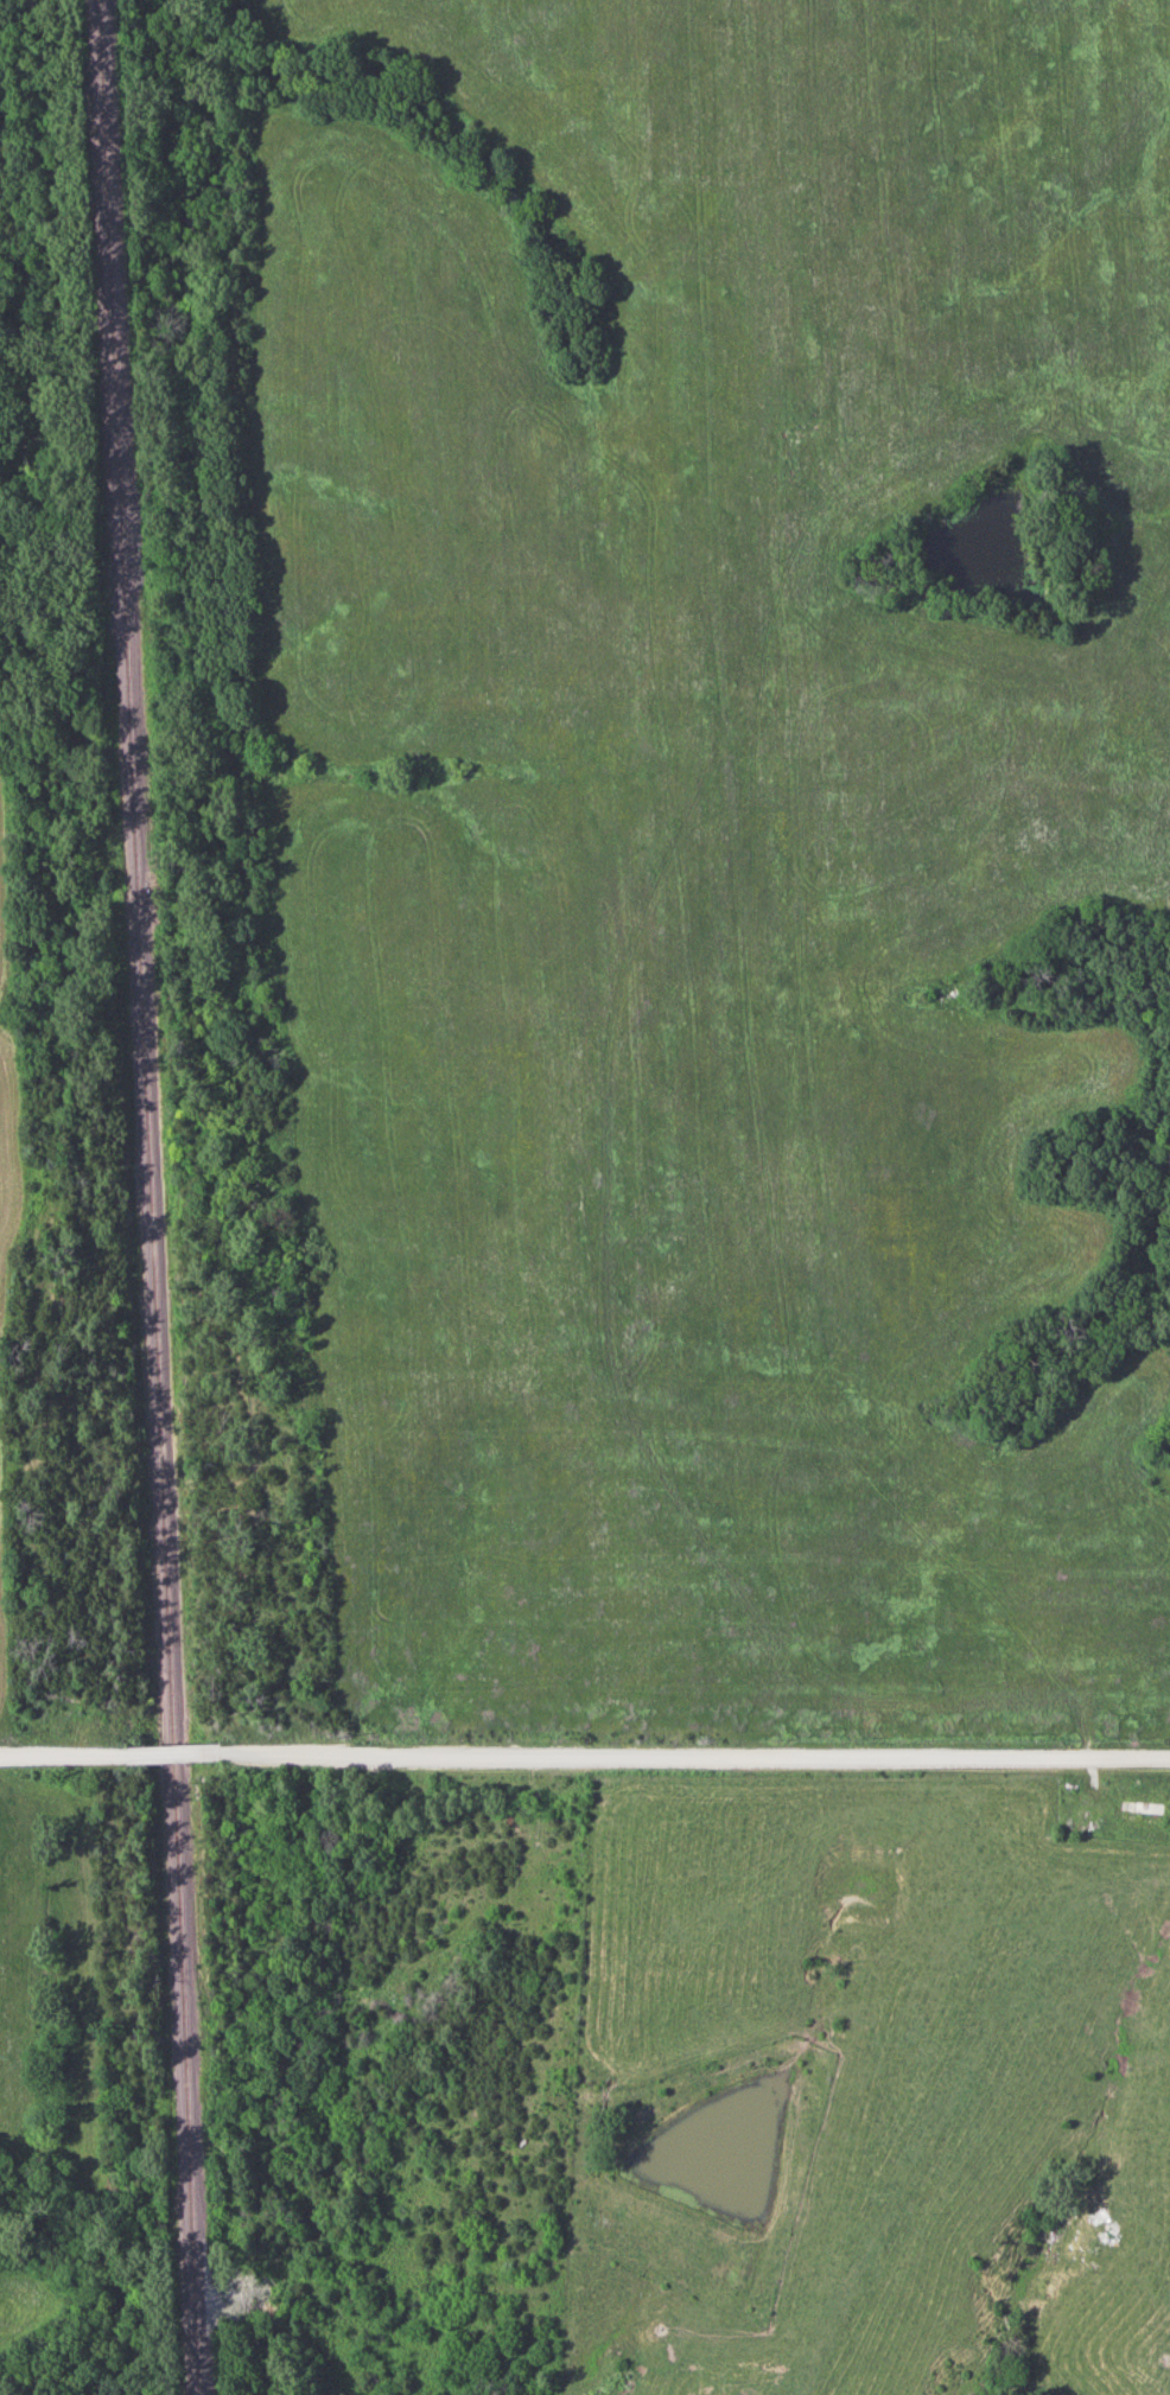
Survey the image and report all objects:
railway: (152, 1197)
road: (174, 1753)
road: (64, 1754)
road: (695, 1754)
building: (1144, 1811)

